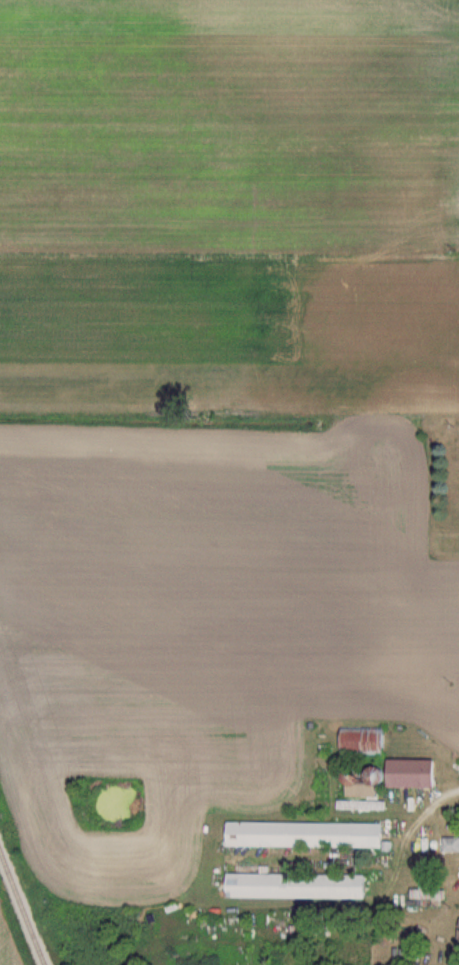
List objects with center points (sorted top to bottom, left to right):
building: (414, 773)
building: (364, 786)
road: (434, 799)
building: (308, 834)
building: (452, 844)
building: (299, 885)
building: (430, 892)
railway: (23, 903)

